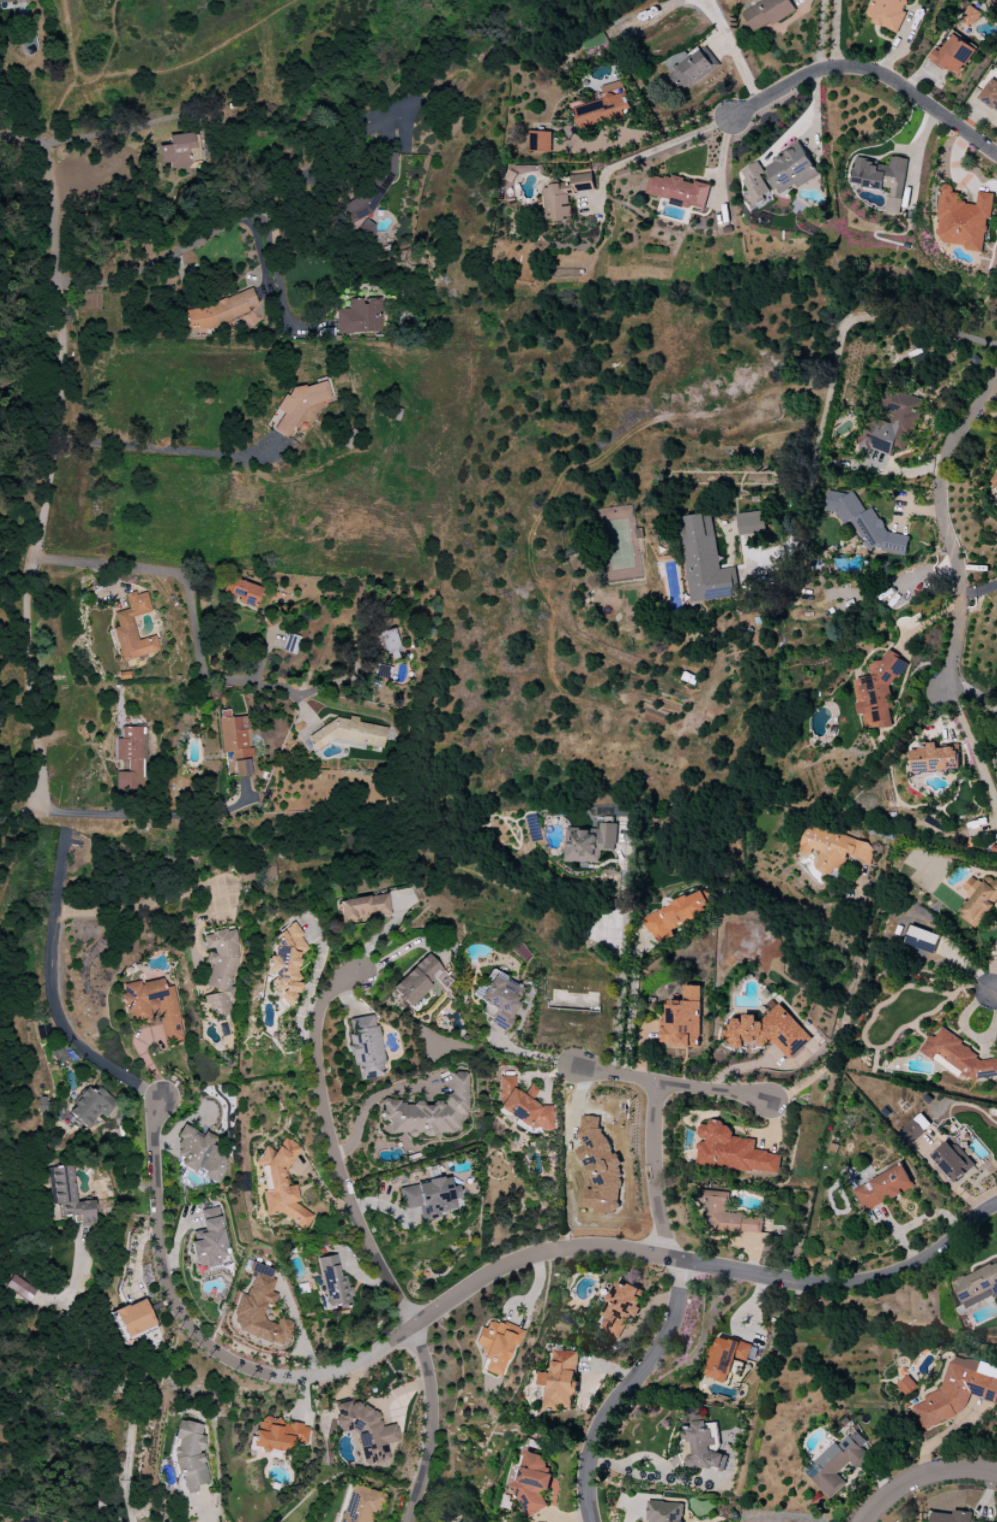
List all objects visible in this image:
building: (13, 2)
building: (767, 13)
building: (888, 13)
building: (971, 16)
road: (836, 34)
road: (731, 51)
building: (953, 55)
building: (690, 67)
road: (871, 73)
building: (990, 95)
building: (602, 107)
road: (674, 127)
road: (123, 130)
road: (20, 140)
building: (540, 141)
road: (652, 151)
road: (919, 159)
building: (387, 166)
building: (779, 174)
building: (883, 179)
building: (677, 190)
building: (565, 196)
building: (361, 214)
road: (231, 218)
building: (963, 220)
road: (275, 275)
building: (219, 311)
building: (360, 316)
road: (946, 332)
building: (299, 404)
road: (824, 417)
building: (892, 423)
road: (167, 449)
road: (48, 479)
building: (994, 482)
building: (996, 506)
building: (751, 523)
building: (865, 523)
road: (944, 526)
building: (705, 561)
road: (978, 591)
building: (244, 593)
road: (191, 600)
building: (133, 628)
building: (291, 643)
building: (390, 644)
road: (283, 687)
building: (878, 691)
building: (352, 734)
building: (235, 741)
road: (974, 750)
building: (934, 758)
building: (129, 759)
road: (200, 817)
road: (42, 819)
building: (589, 843)
building: (834, 849)
building: (979, 900)
building: (364, 908)
building: (674, 916)
building: (922, 939)
road: (624, 946)
road: (398, 950)
road: (50, 951)
building: (285, 964)
building: (221, 970)
building: (417, 980)
road: (996, 991)
building: (500, 1000)
road: (631, 1003)
building: (154, 1007)
road: (847, 1017)
building: (682, 1020)
building: (768, 1031)
road: (975, 1035)
building: (365, 1047)
building: (59, 1055)
road: (531, 1055)
building: (957, 1056)
road: (147, 1059)
road: (673, 1085)
building: (523, 1105)
building: (90, 1106)
building: (429, 1112)
road: (360, 1113)
building: (914, 1129)
building: (731, 1150)
building: (200, 1154)
building: (953, 1161)
building: (600, 1167)
road: (658, 1169)
building: (280, 1184)
building: (883, 1188)
building: (68, 1196)
building: (431, 1197)
building: (725, 1216)
building: (210, 1241)
road: (367, 1242)
building: (333, 1283)
road: (470, 1283)
building: (977, 1286)
building: (19, 1288)
building: (620, 1309)
building: (260, 1311)
building: (134, 1318)
building: (497, 1344)
building: (726, 1357)
road: (111, 1372)
building: (561, 1381)
building: (906, 1385)
road: (628, 1386)
building: (957, 1391)
building: (368, 1431)
building: (278, 1434)
building: (705, 1446)
building: (190, 1455)
building: (836, 1463)
road: (923, 1477)
building: (534, 1482)
building: (360, 1505)
building: (665, 1512)
building: (952, 1517)

